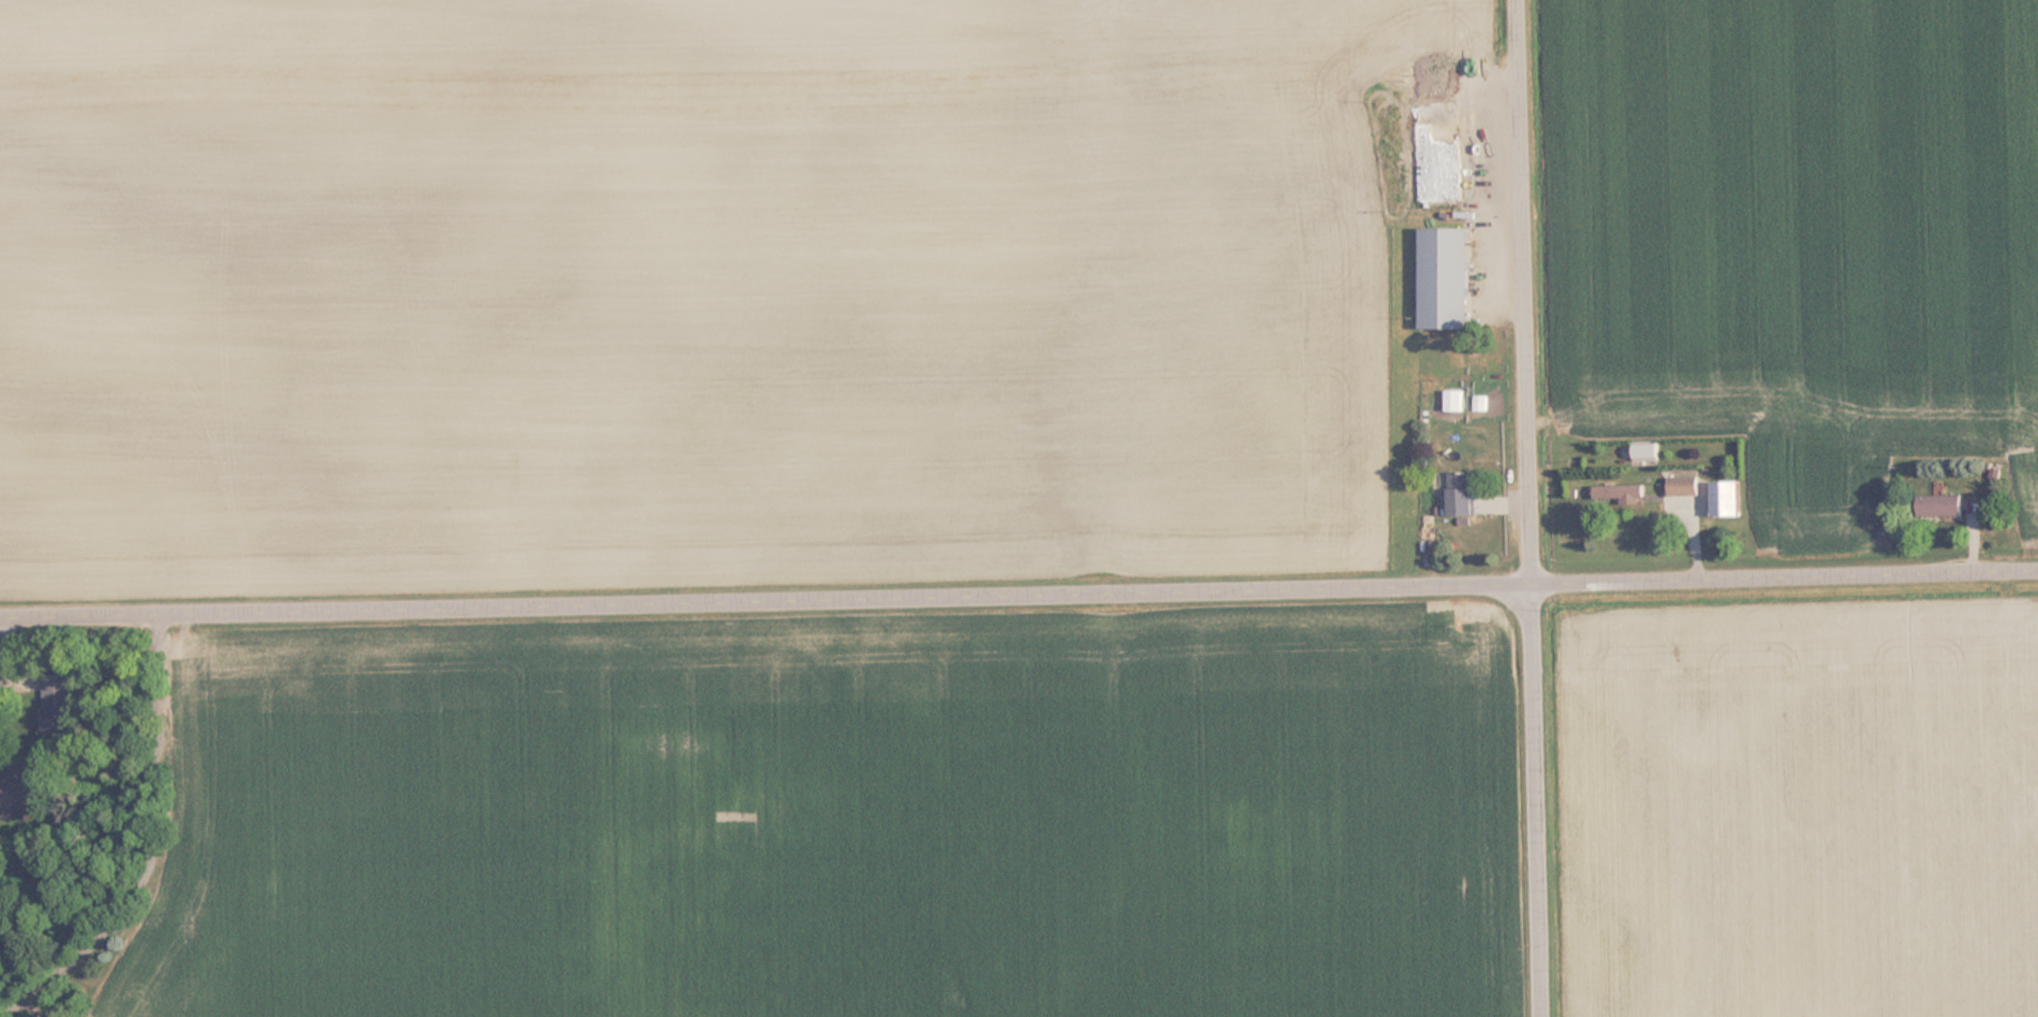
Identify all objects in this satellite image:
building: (1426, 113)
building: (1482, 133)
building: (1445, 278)
building: (1646, 453)
building: (1683, 486)
building: (1627, 493)
building: (1462, 494)
building: (1726, 499)
building: (1940, 506)
road: (1537, 508)
road: (1019, 592)
road: (6, 648)
building: (58, 703)
building: (17, 790)

